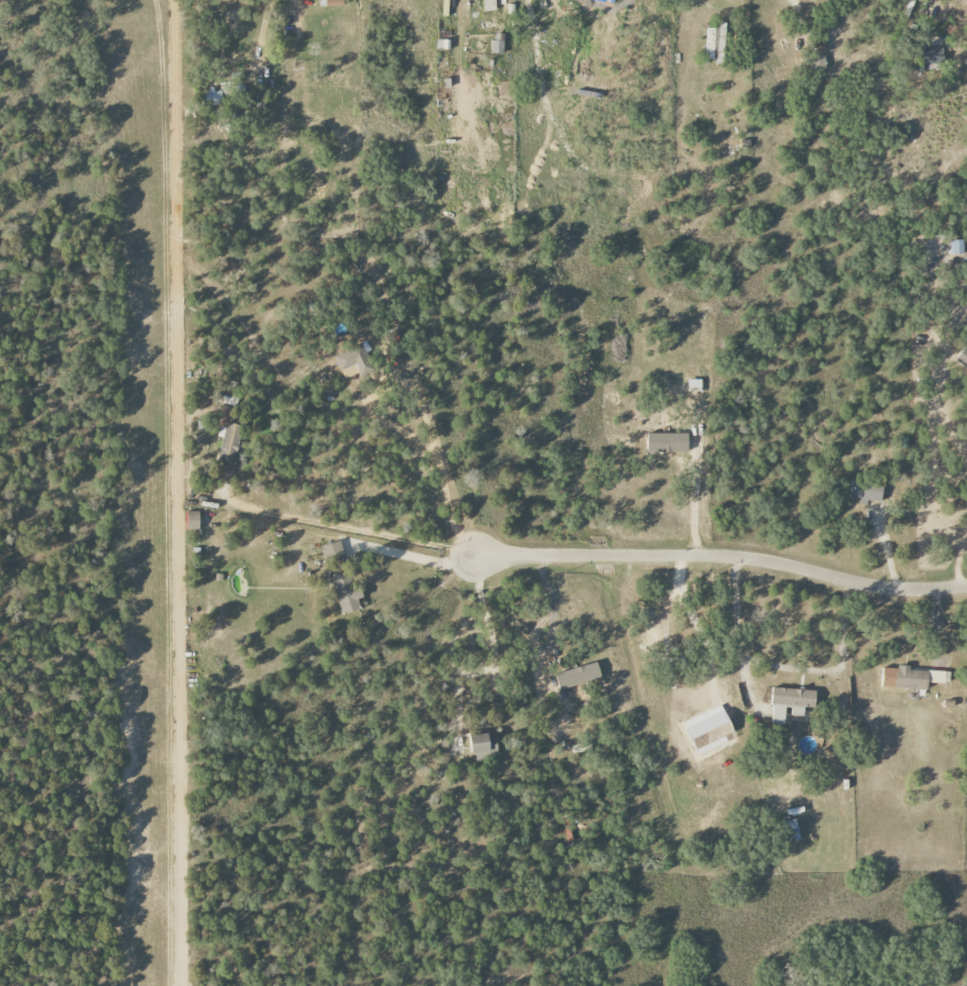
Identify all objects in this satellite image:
building: (334, 2)
building: (489, 5)
road: (724, 6)
road: (505, 8)
road: (795, 22)
building: (498, 43)
building: (715, 43)
building: (442, 44)
building: (821, 47)
building: (929, 55)
building: (226, 90)
building: (212, 98)
building: (957, 247)
building: (962, 357)
building: (354, 358)
road: (419, 412)
road: (934, 416)
building: (228, 441)
building: (667, 443)
building: (867, 491)
road: (695, 503)
building: (193, 520)
road: (338, 524)
building: (333, 552)
road: (722, 556)
road: (953, 559)
road: (416, 560)
building: (346, 594)
road: (740, 631)
road: (492, 647)
road: (836, 669)
building: (578, 676)
building: (912, 678)
building: (791, 703)
building: (483, 744)
building: (791, 830)

